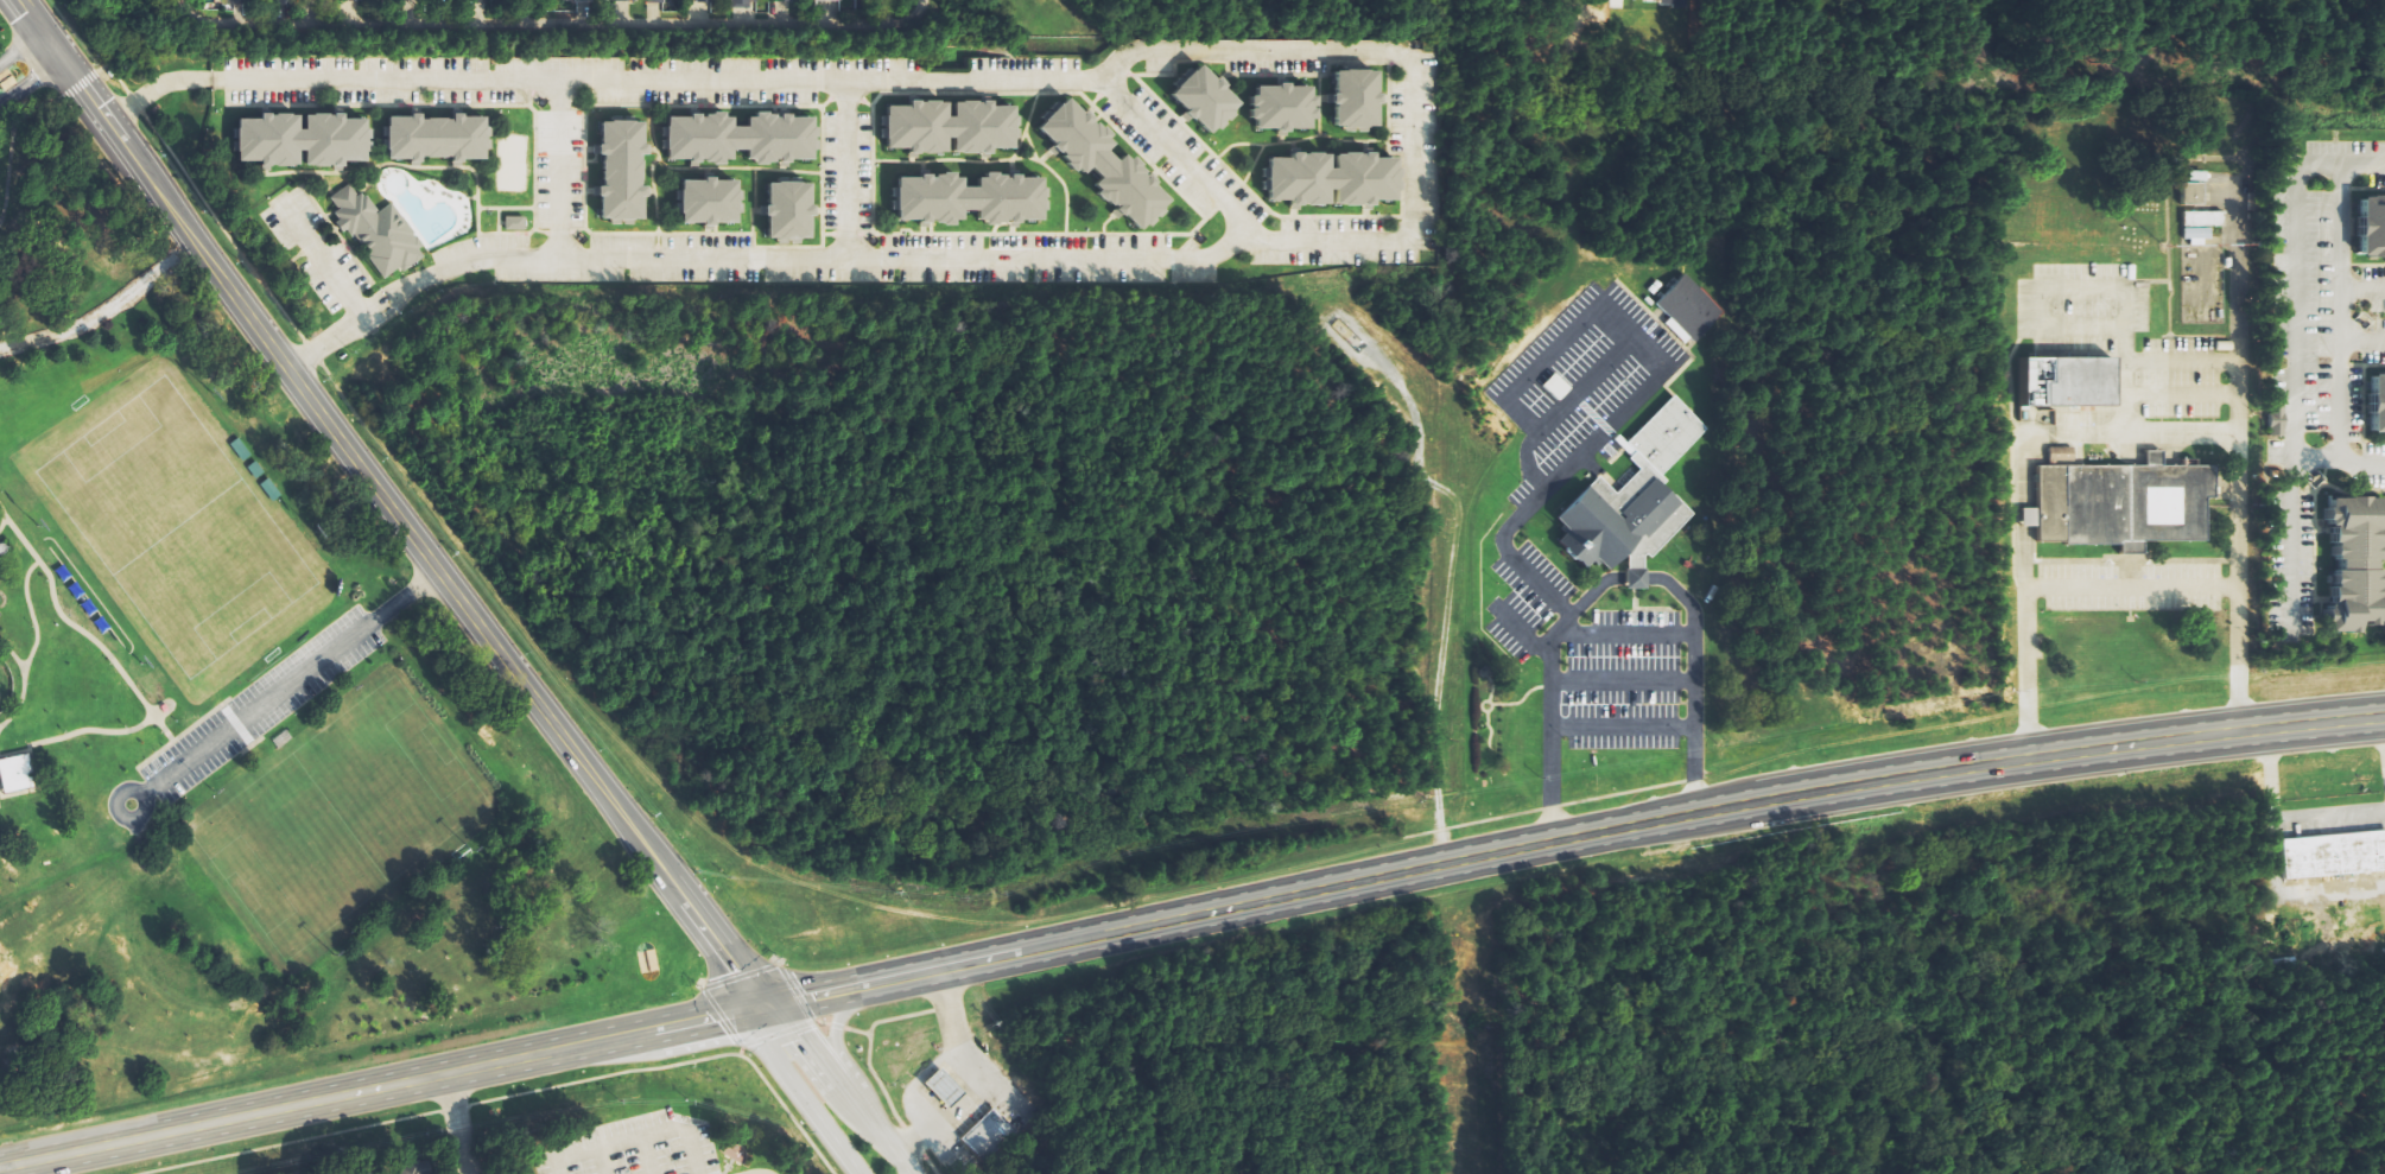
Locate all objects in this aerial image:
building: (236, 0)
building: (359, 0)
building: (577, 0)
building: (626, 0)
building: (705, 0)
building: (656, 1)
building: (743, 4)
traffic signals: (28, 13)
road: (550, 24)
road: (21, 46)
parking lot: (1236, 55)
parking lot: (944, 75)
road: (114, 78)
road: (1092, 78)
road: (31, 80)
parking lot: (675, 80)
traffic signals: (31, 81)
parking lot: (372, 81)
road: (76, 85)
road: (152, 88)
road: (32, 94)
building: (1198, 99)
building: (1350, 99)
traffic signals: (99, 107)
building: (1276, 108)
building: (945, 127)
building: (431, 139)
building: (736, 139)
building: (296, 141)
parking lot: (1412, 145)
parking lot: (1179, 160)
building: (1097, 165)
road: (556, 169)
parking lot: (556, 170)
road: (843, 170)
building: (615, 171)
parking lot: (843, 171)
building: (2197, 177)
building: (1326, 180)
building: (2194, 195)
building: (965, 198)
building: (703, 203)
building: (782, 211)
building: (515, 223)
building: (2202, 226)
building: (2374, 227)
building: (372, 233)
helipad: (2083, 240)
parking lot: (1326, 245)
parking lot: (310, 249)
road: (316, 258)
road: (814, 258)
parking lot: (507, 260)
parking lot: (693, 260)
parking lot: (1019, 260)
building: (1691, 310)
road: (2332, 312)
road: (335, 334)
building: (2063, 383)
building: (2378, 402)
building: (2277, 421)
road: (2238, 429)
road: (1575, 457)
building: (1636, 501)
building: (2121, 501)
road: (2024, 504)
road: (394, 512)
road: (0, 520)
park: (173, 526)
building: (0, 548)
building: (2358, 565)
road: (1612, 580)
road: (2118, 584)
road: (77, 632)
road: (32, 643)
road: (12, 658)
road: (288, 683)
parking lot: (256, 706)
road: (72, 732)
building: (14, 773)
road: (119, 818)
park: (337, 821)
building: (2329, 853)
road: (1187, 916)
road: (768, 966)
traffic signals: (738, 983)
traffic signals: (789, 1001)
traffic signals: (728, 1014)
road: (718, 1016)
traffic signals: (768, 1022)
road: (818, 1023)
road: (832, 1027)
road: (852, 1032)
road: (774, 1034)
road: (831, 1037)
road: (737, 1052)
road: (870, 1077)
road: (981, 1080)
building: (935, 1089)
gas station: (935, 1089)
road: (844, 1091)
road: (502, 1097)
road: (804, 1102)
road: (455, 1124)
building: (983, 1135)
road: (7, 1169)
building: (420, 1169)

